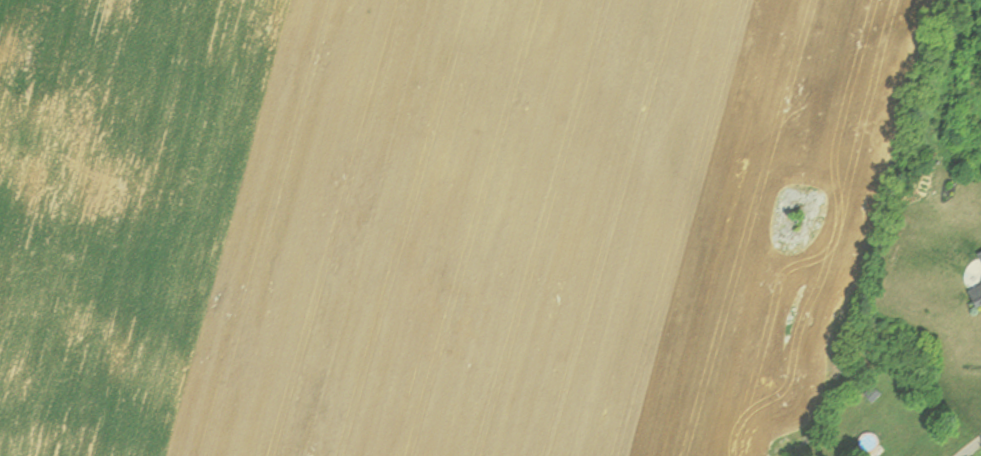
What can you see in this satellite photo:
building: (974, 281)
road: (967, 445)

